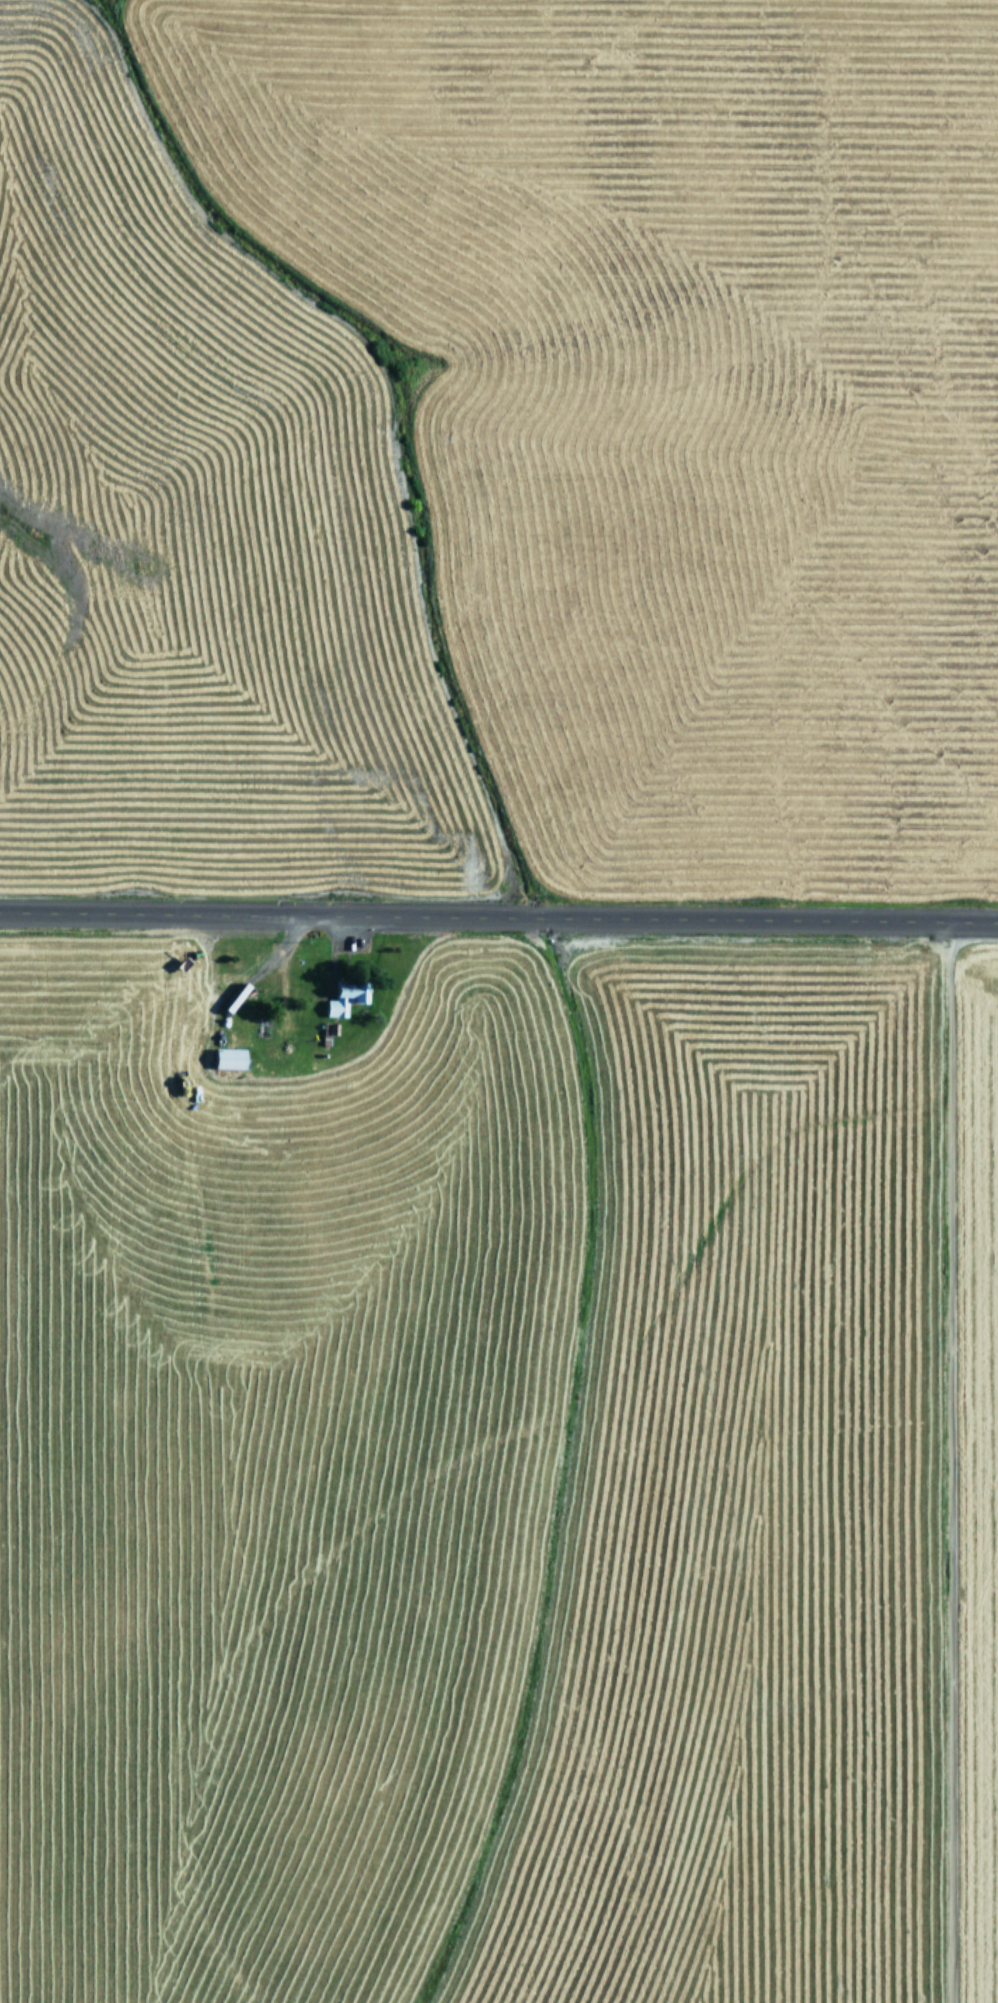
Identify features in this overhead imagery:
crop: (499, 446)
road: (499, 919)
building: (232, 1059)
crop: (498, 1469)

